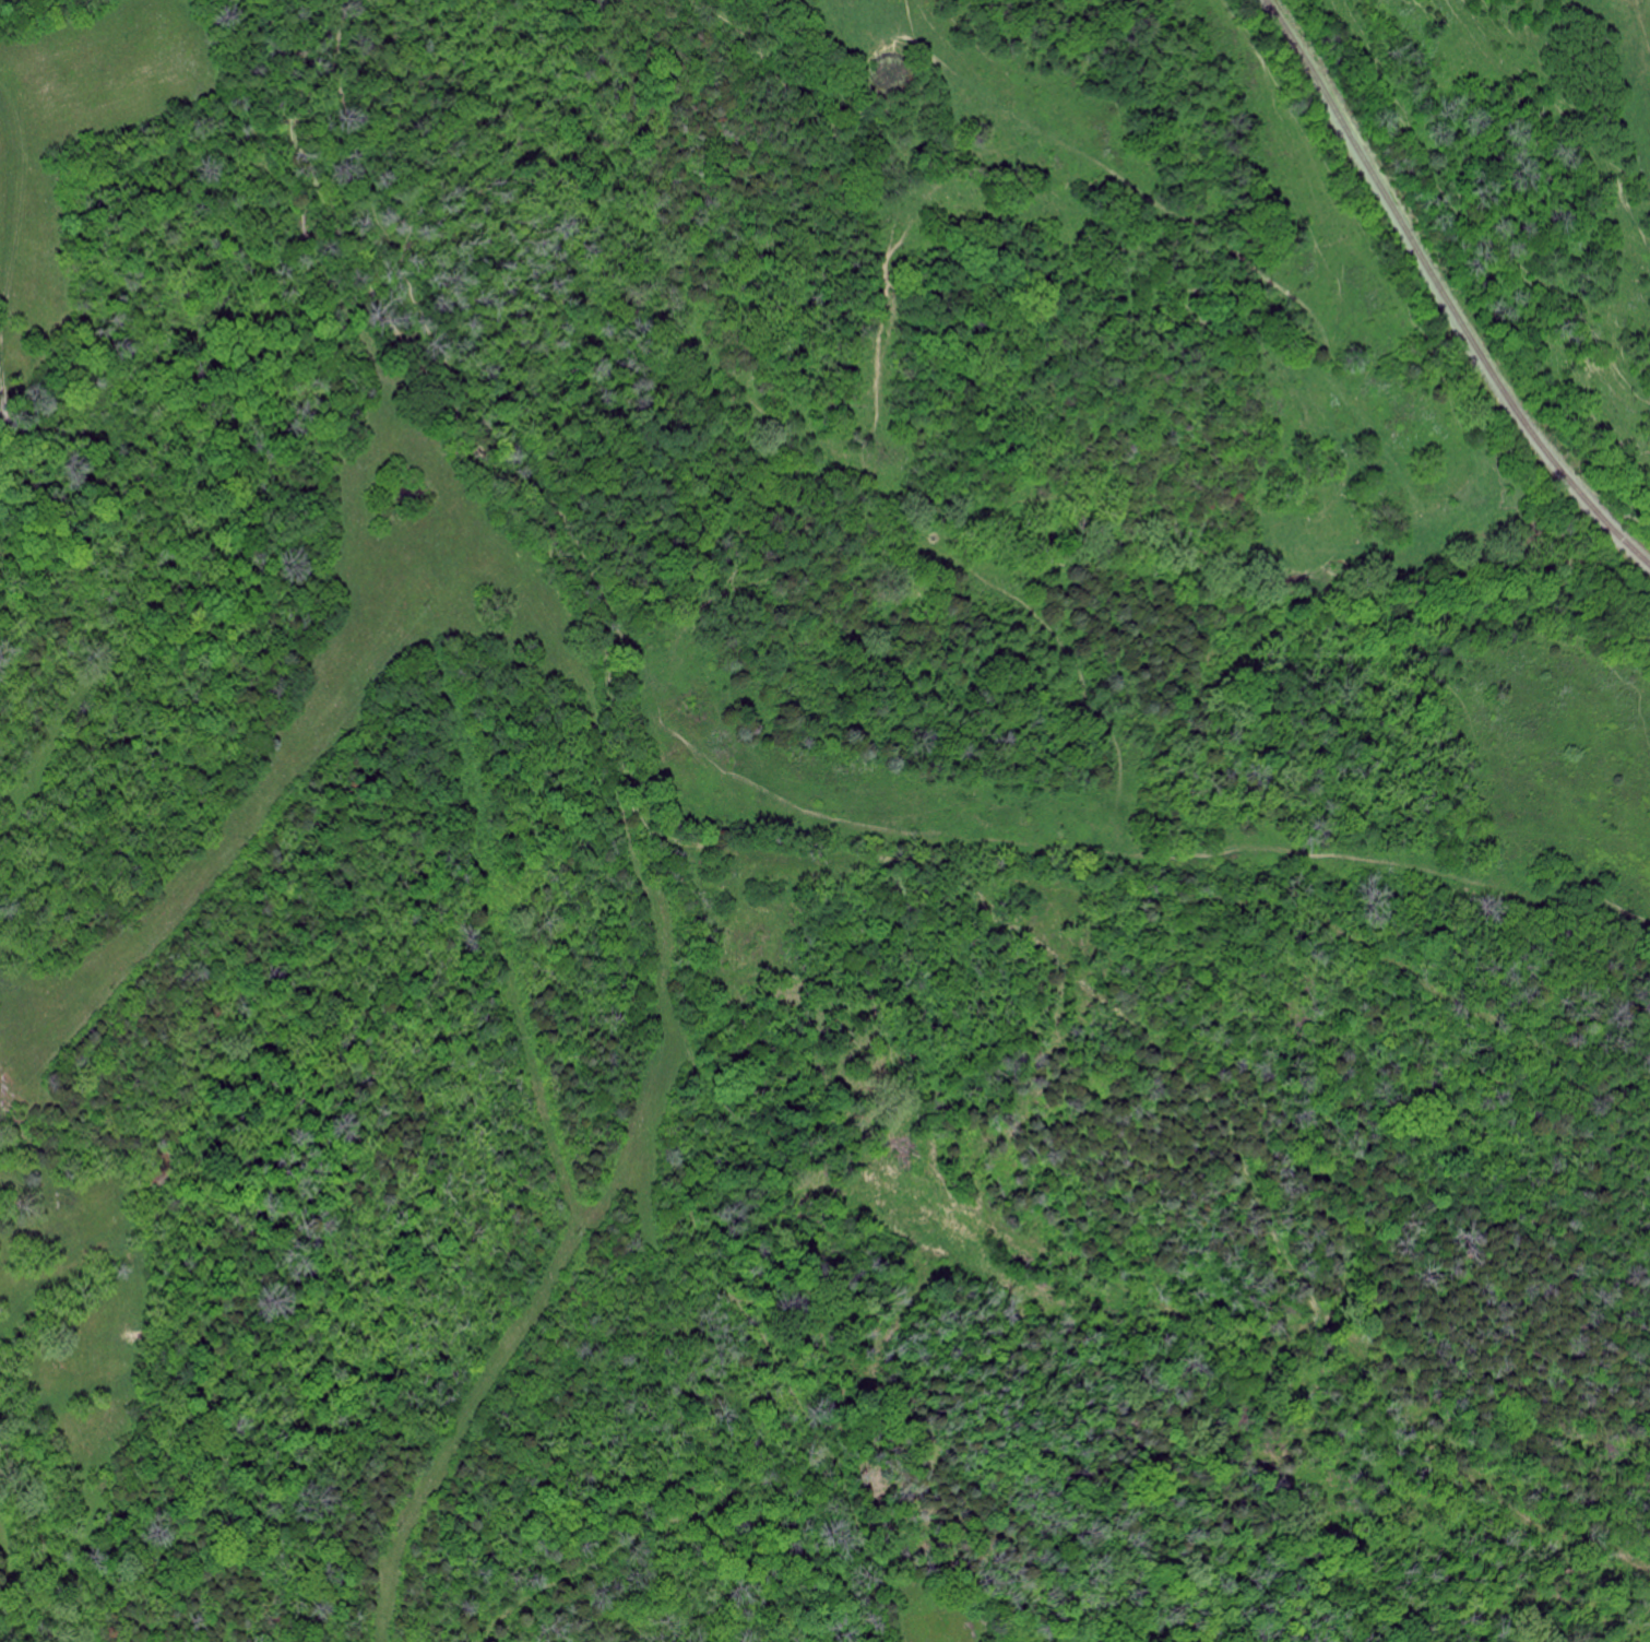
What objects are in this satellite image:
railway: (1446, 292)

